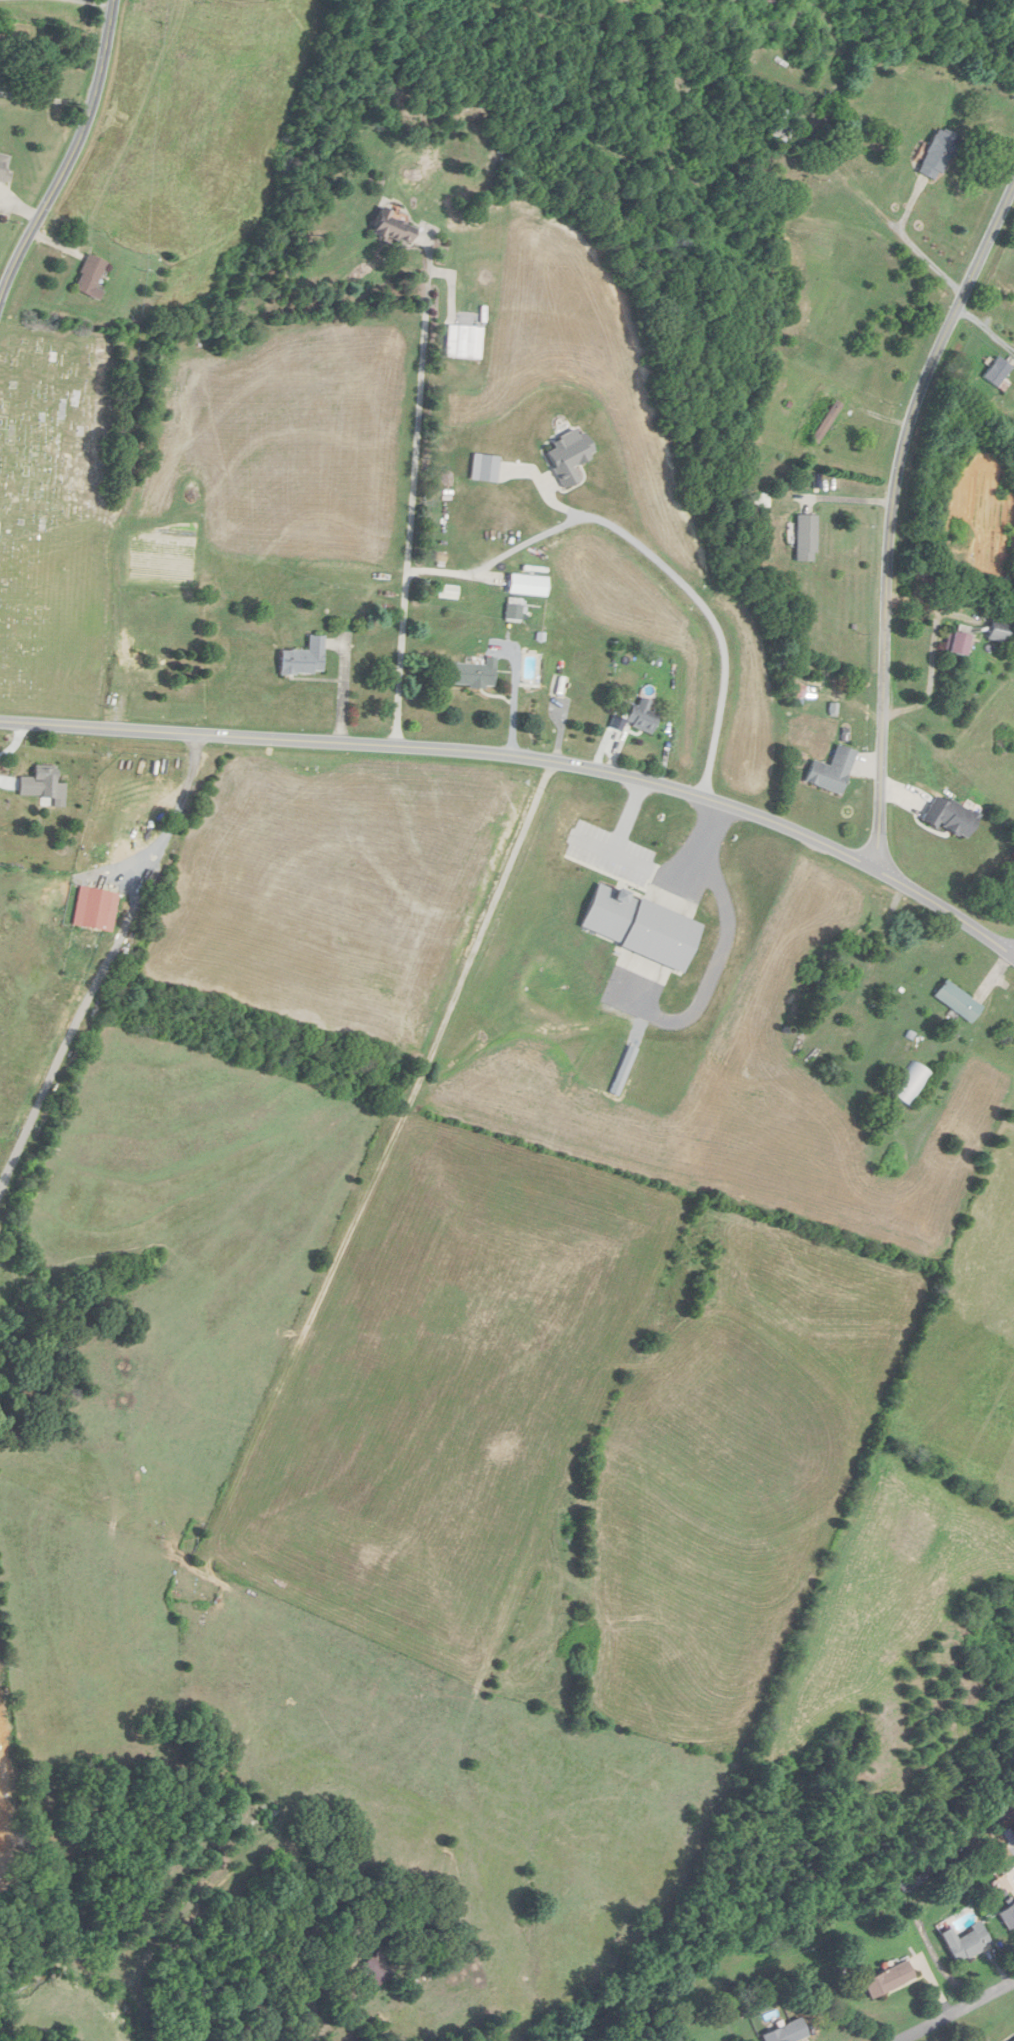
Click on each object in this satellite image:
road: (98, 2)
road: (45, 99)
building: (782, 123)
building: (938, 154)
road: (72, 155)
building: (4, 166)
building: (394, 228)
building: (90, 277)
road: (452, 284)
building: (460, 342)
building: (998, 371)
road: (420, 406)
building: (826, 422)
road: (848, 498)
road: (554, 500)
park: (58, 508)
road: (894, 512)
road: (580, 519)
building: (806, 538)
building: (1010, 576)
building: (526, 585)
building: (514, 610)
building: (1001, 632)
building: (958, 644)
building: (304, 659)
building: (472, 674)
building: (572, 688)
road: (515, 693)
building: (642, 715)
road: (527, 756)
building: (832, 771)
building: (45, 784)
building: (951, 818)
road: (594, 844)
road: (649, 869)
building: (96, 908)
road: (105, 964)
road: (713, 973)
building: (842, 973)
building: (958, 1002)
building: (1008, 1915)
building: (966, 1943)
building: (375, 1970)
building: (890, 1979)
road: (959, 2011)

